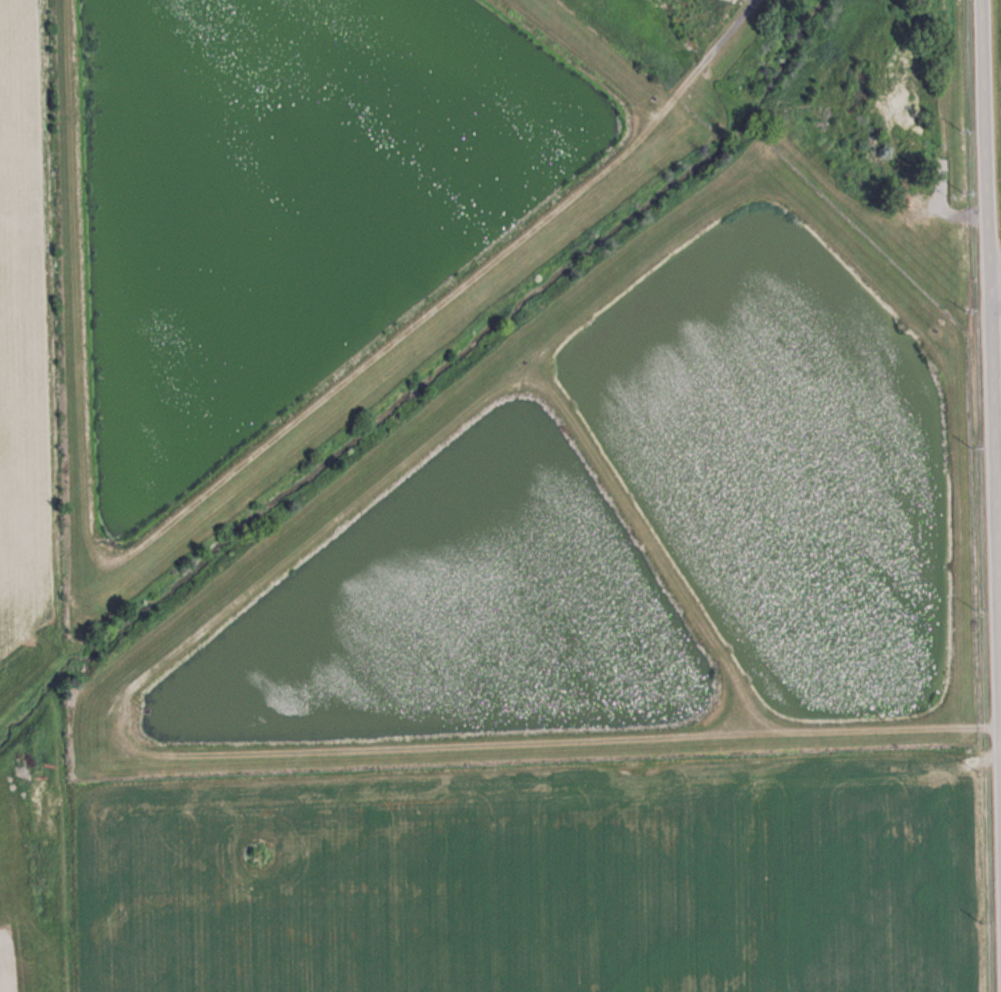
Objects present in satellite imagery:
road: (991, 262)
road: (987, 402)
road: (21, 668)

